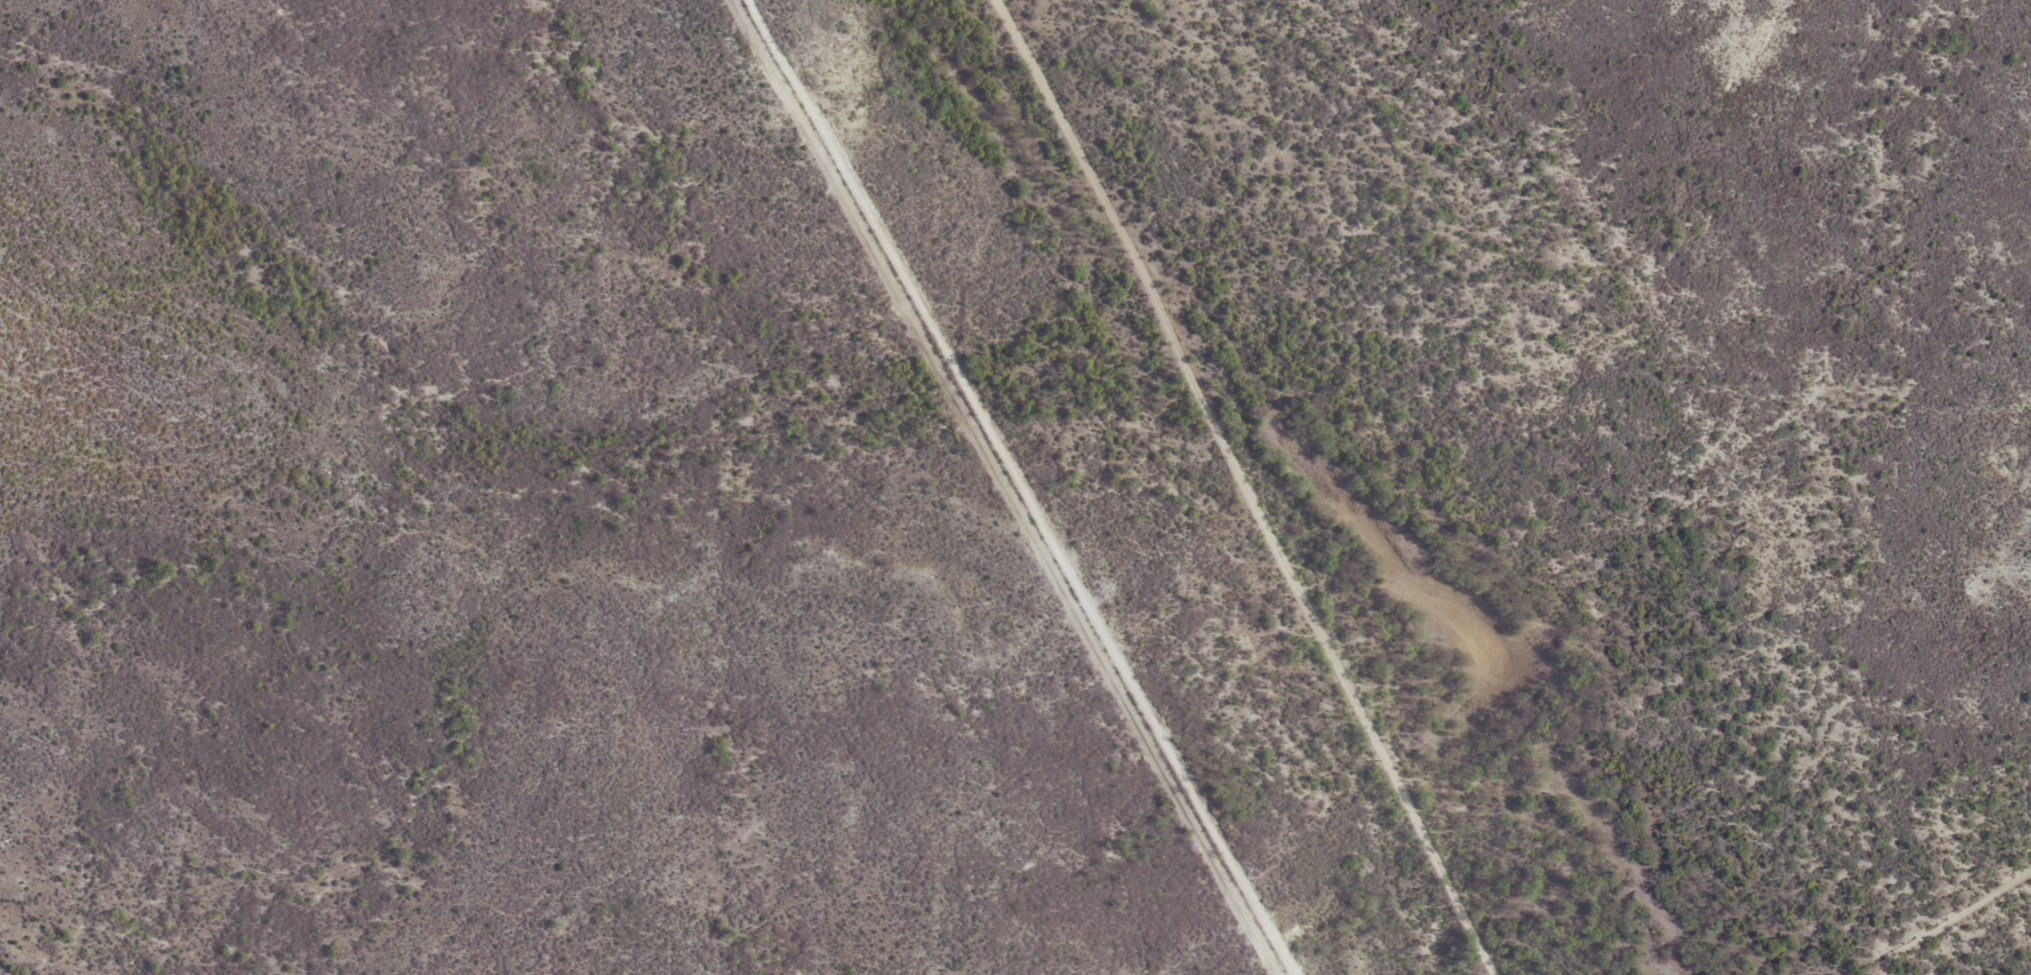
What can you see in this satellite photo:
road: (1250, 486)

